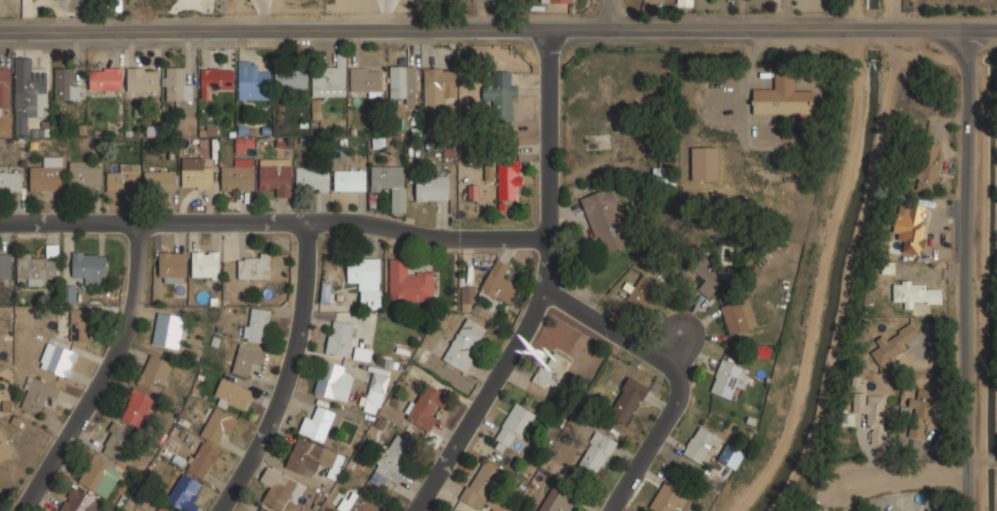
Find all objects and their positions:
building: (553, 0)
road: (635, 14)
road: (892, 14)
road: (498, 28)
building: (106, 78)
building: (291, 78)
building: (331, 78)
building: (142, 80)
building: (215, 80)
building: (365, 80)
building: (253, 81)
building: (403, 82)
building: (439, 83)
building: (66, 84)
building: (176, 85)
building: (5, 87)
building: (29, 92)
building: (501, 95)
building: (782, 96)
building: (704, 162)
building: (928, 167)
building: (85, 173)
building: (488, 173)
building: (47, 174)
building: (196, 174)
building: (276, 175)
building: (237, 177)
building: (123, 178)
building: (312, 178)
building: (159, 180)
building: (509, 180)
building: (11, 181)
building: (349, 181)
building: (391, 183)
building: (432, 187)
building: (605, 219)
road: (274, 222)
building: (910, 227)
building: (206, 264)
building: (6, 265)
building: (88, 265)
building: (254, 266)
building: (172, 267)
building: (35, 268)
road: (970, 270)
building: (708, 275)
building: (366, 279)
building: (409, 283)
building: (499, 284)
road: (545, 286)
building: (908, 291)
building: (641, 292)
building: (70, 294)
building: (468, 296)
building: (739, 315)
building: (80, 325)
building: (257, 325)
building: (168, 330)
building: (339, 338)
building: (464, 345)
building: (893, 345)
building: (362, 353)
building: (60, 360)
building: (246, 360)
building: (551, 369)
building: (156, 373)
road: (288, 373)
road: (104, 374)
road: (674, 375)
building: (728, 378)
building: (333, 381)
building: (376, 392)
building: (39, 395)
building: (233, 395)
building: (628, 400)
building: (426, 406)
building: (137, 408)
building: (873, 414)
building: (920, 414)
building: (316, 424)
building: (219, 425)
building: (514, 425)
building: (117, 440)
building: (703, 445)
building: (3, 447)
building: (596, 455)
building: (730, 455)
building: (309, 456)
building: (202, 459)
building: (391, 461)
road: (904, 472)
building: (100, 475)
building: (482, 485)
building: (280, 488)
building: (183, 492)
building: (668, 497)
building: (80, 501)
building: (563, 502)
building: (359, 503)
building: (262, 508)
building: (166, 509)
building: (493, 509)

